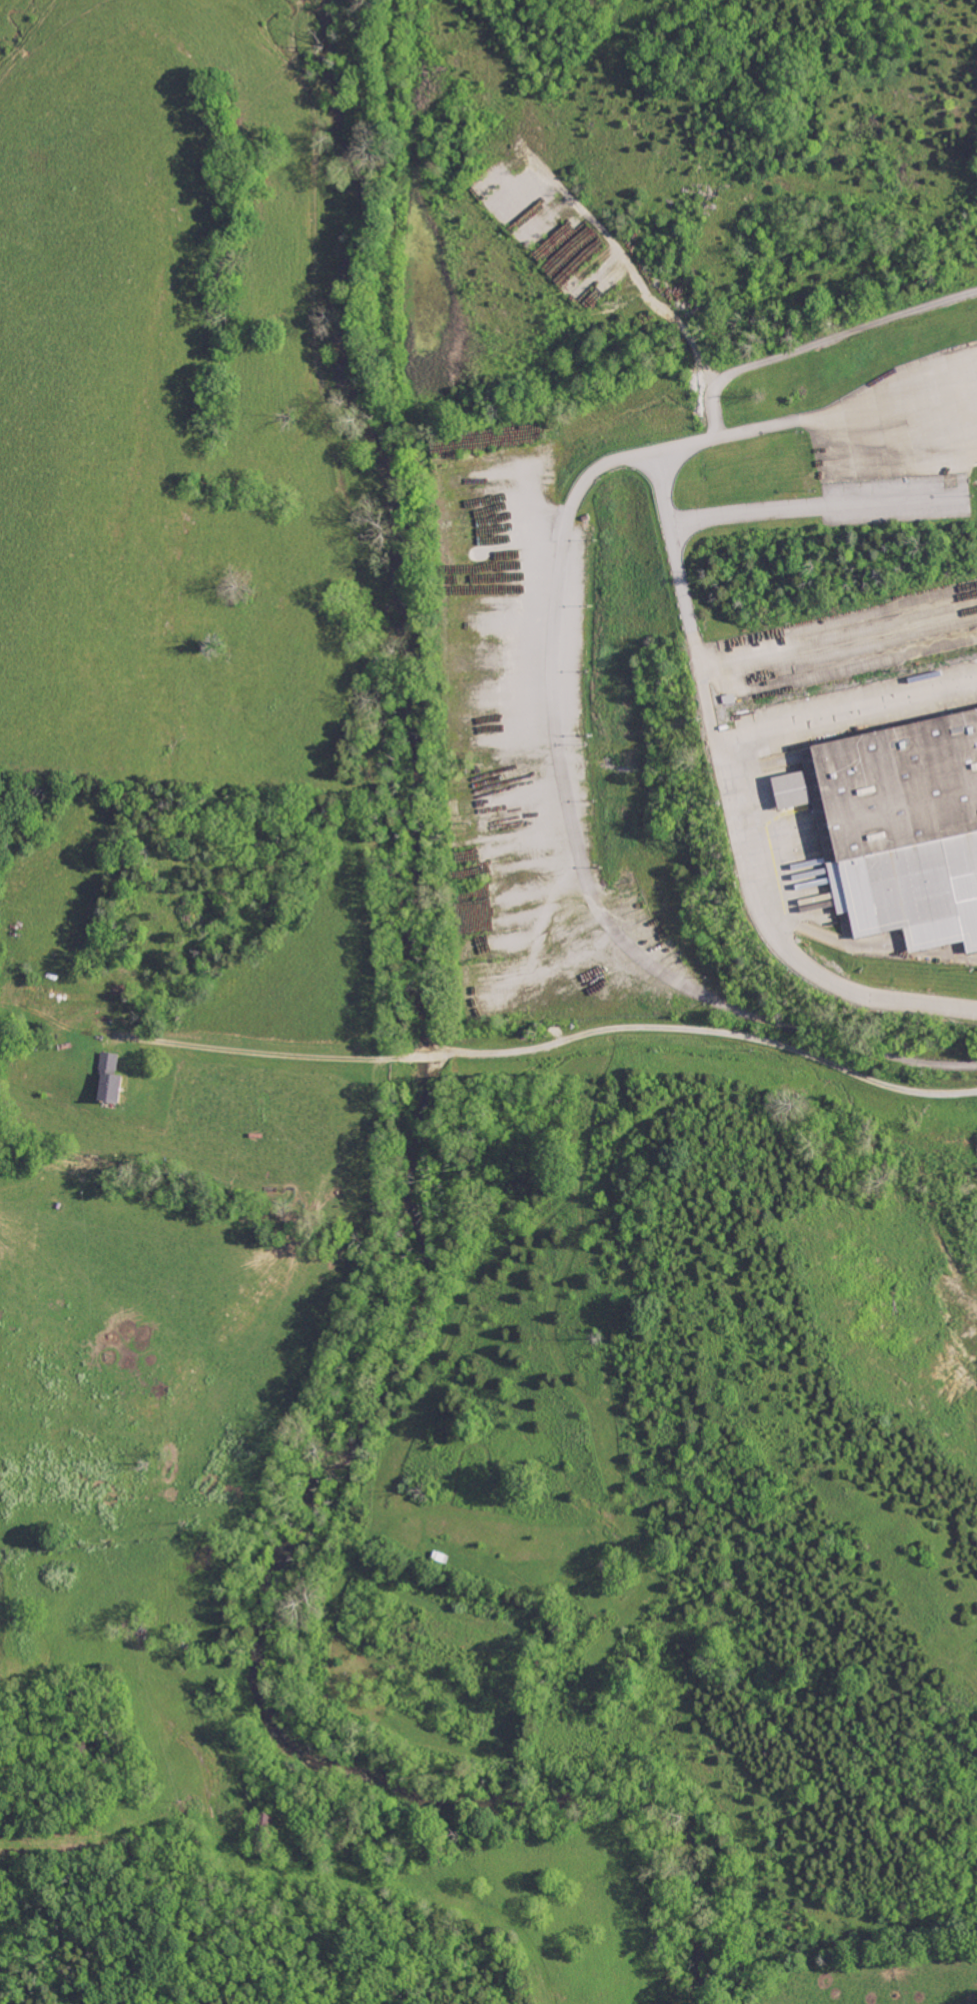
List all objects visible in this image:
road: (722, 737)
building: (897, 831)
road: (781, 1019)
road: (557, 1041)
building: (109, 1078)

